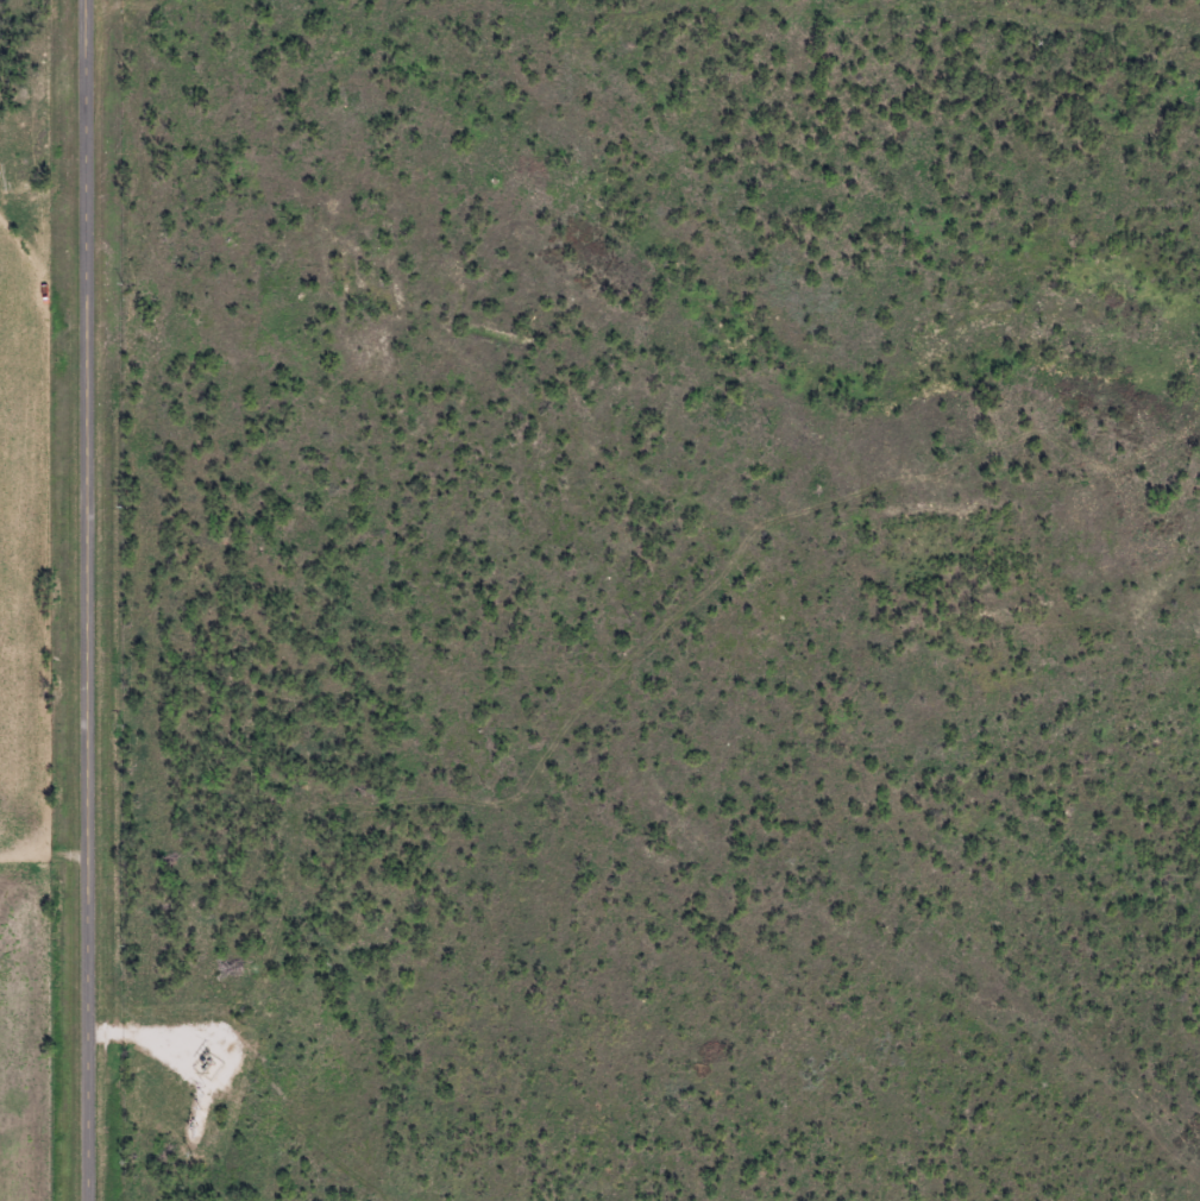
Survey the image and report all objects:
road: (76, 600)
power substation: (209, 1067)
power tower: (212, 1069)

